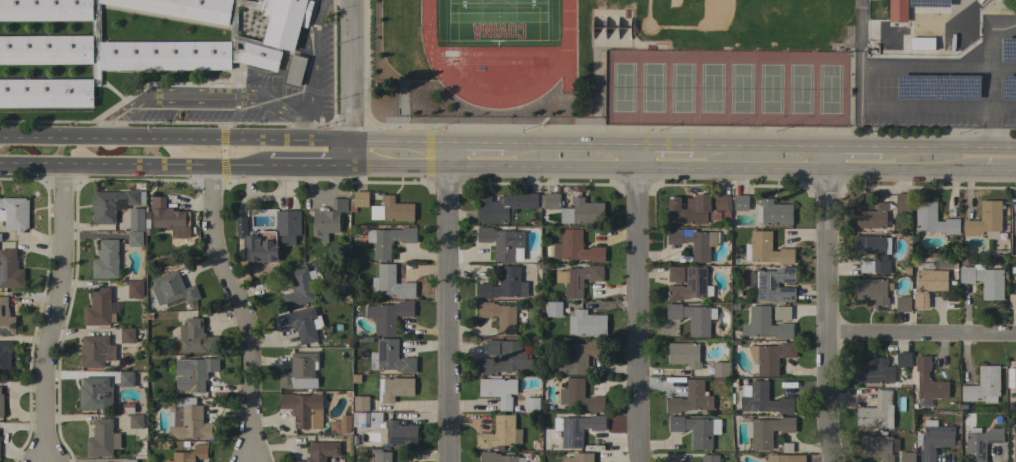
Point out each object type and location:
building: (994, 0)
building: (999, 0)
building: (928, 3)
building: (896, 11)
park: (717, 16)
building: (921, 43)
building: (136, 44)
building: (1008, 49)
track: (427, 54)
road: (314, 57)
road: (857, 63)
road: (991, 69)
building: (295, 70)
road: (356, 70)
building: (1012, 81)
road: (866, 85)
park: (728, 88)
road: (195, 98)
road: (300, 129)
road: (475, 137)
road: (403, 138)
road: (568, 138)
road: (758, 138)
road: (853, 138)
road: (662, 139)
road: (149, 140)
road: (328, 140)
road: (948, 140)
road: (356, 152)
road: (130, 163)
road: (685, 163)
road: (308, 166)
building: (359, 200)
building: (551, 201)
building: (720, 202)
building: (741, 202)
building: (901, 202)
building: (113, 204)
building: (504, 206)
building: (392, 210)
building: (689, 210)
building: (581, 212)
building: (14, 213)
building: (774, 213)
building: (726, 215)
building: (168, 216)
building: (714, 216)
building: (872, 217)
building: (1015, 217)
building: (136, 219)
building: (328, 219)
building: (933, 219)
building: (985, 220)
building: (269, 236)
building: (0, 237)
building: (134, 238)
building: (388, 240)
building: (693, 242)
building: (503, 243)
building: (576, 247)
building: (768, 249)
building: (875, 251)
building: (106, 260)
building: (866, 266)
building: (10, 270)
building: (675, 274)
building: (578, 279)
building: (984, 281)
building: (390, 283)
building: (927, 283)
building: (1015, 283)
building: (504, 284)
building: (690, 285)
building: (775, 285)
building: (135, 289)
building: (172, 289)
building: (298, 289)
building: (872, 290)
road: (452, 299)
road: (637, 300)
road: (827, 300)
building: (903, 304)
building: (98, 307)
building: (553, 309)
road: (244, 310)
road: (56, 312)
building: (781, 313)
building: (389, 316)
building: (502, 316)
building: (693, 318)
building: (6, 319)
building: (586, 323)
building: (302, 324)
building: (764, 324)
building: (127, 335)
building: (196, 337)
road: (921, 337)
building: (491, 347)
building: (96, 351)
building: (684, 354)
building: (5, 356)
building: (390, 357)
building: (577, 357)
building: (771, 357)
building: (505, 359)
building: (903, 360)
building: (720, 369)
building: (299, 372)
building: (875, 372)
building: (193, 373)
building: (1013, 377)
building: (1008, 378)
building: (128, 379)
building: (927, 382)
building: (983, 385)
building: (394, 388)
building: (499, 391)
building: (95, 393)
building: (578, 397)
building: (690, 398)
building: (763, 399)
building: (360, 403)
building: (1, 405)
building: (531, 405)
building: (303, 410)
building: (876, 412)
building: (368, 420)
building: (135, 421)
building: (189, 421)
building: (340, 425)
building: (577, 429)
building: (693, 430)
building: (765, 430)
building: (500, 433)
building: (400, 434)
building: (102, 439)
building: (550, 439)
building: (934, 439)
building: (980, 443)
building: (1014, 444)
building: (878, 447)
building: (321, 451)
building: (191, 454)
building: (382, 457)
building: (498, 457)
building: (579, 457)
building: (906, 457)
building: (709, 458)
building: (785, 458)
building: (129, 460)

